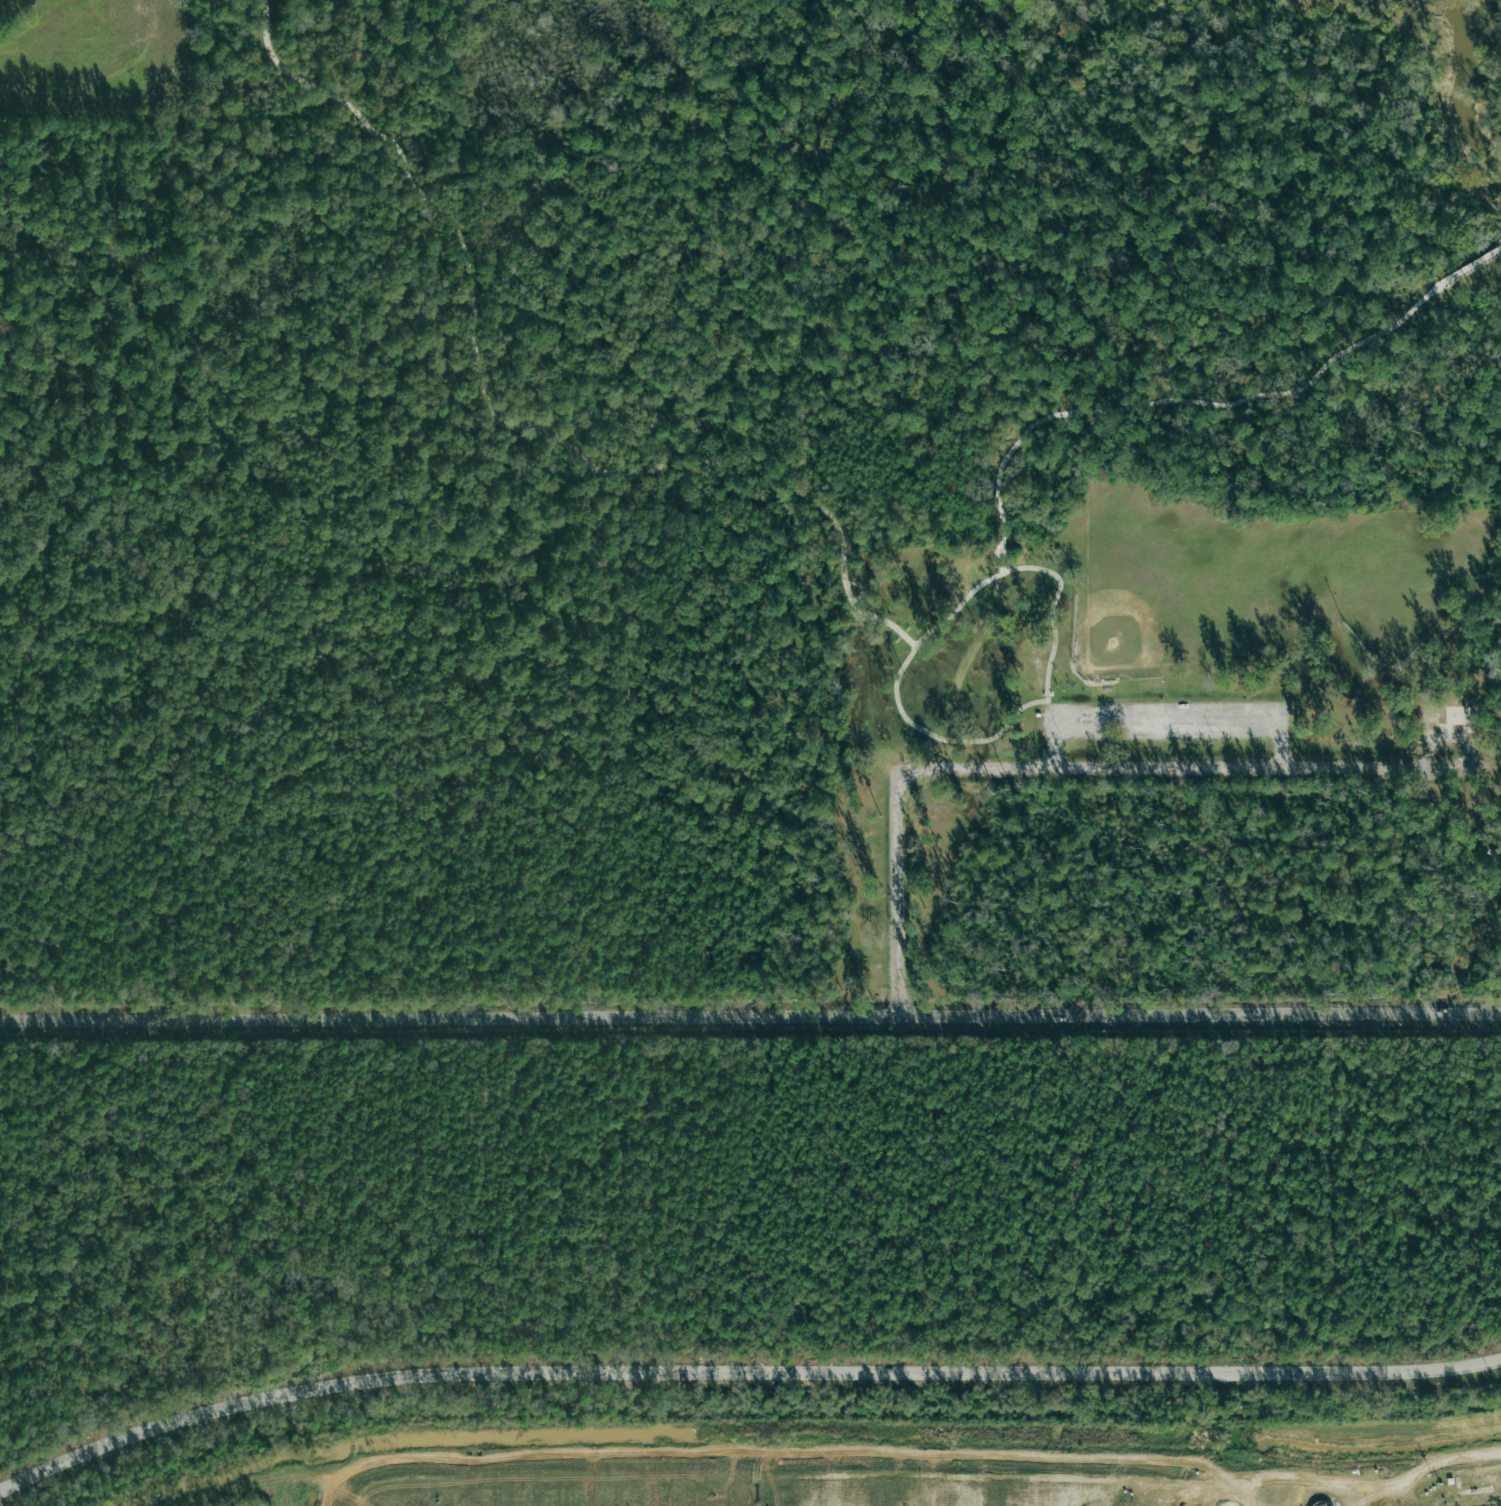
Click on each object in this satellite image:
park: (94, 57)
river: (1457, 85)
road: (1468, 266)
road: (1169, 400)
road: (507, 427)
park: (1173, 496)
park: (1160, 594)
road: (938, 623)
road: (1165, 710)
parking lot: (1165, 721)
road: (1166, 731)
road: (1062, 768)
road: (750, 1018)
road: (741, 1373)
road: (763, 1458)
landfill: (776, 1481)
road: (1373, 1488)
road: (1221, 1499)
road: (1247, 1499)

